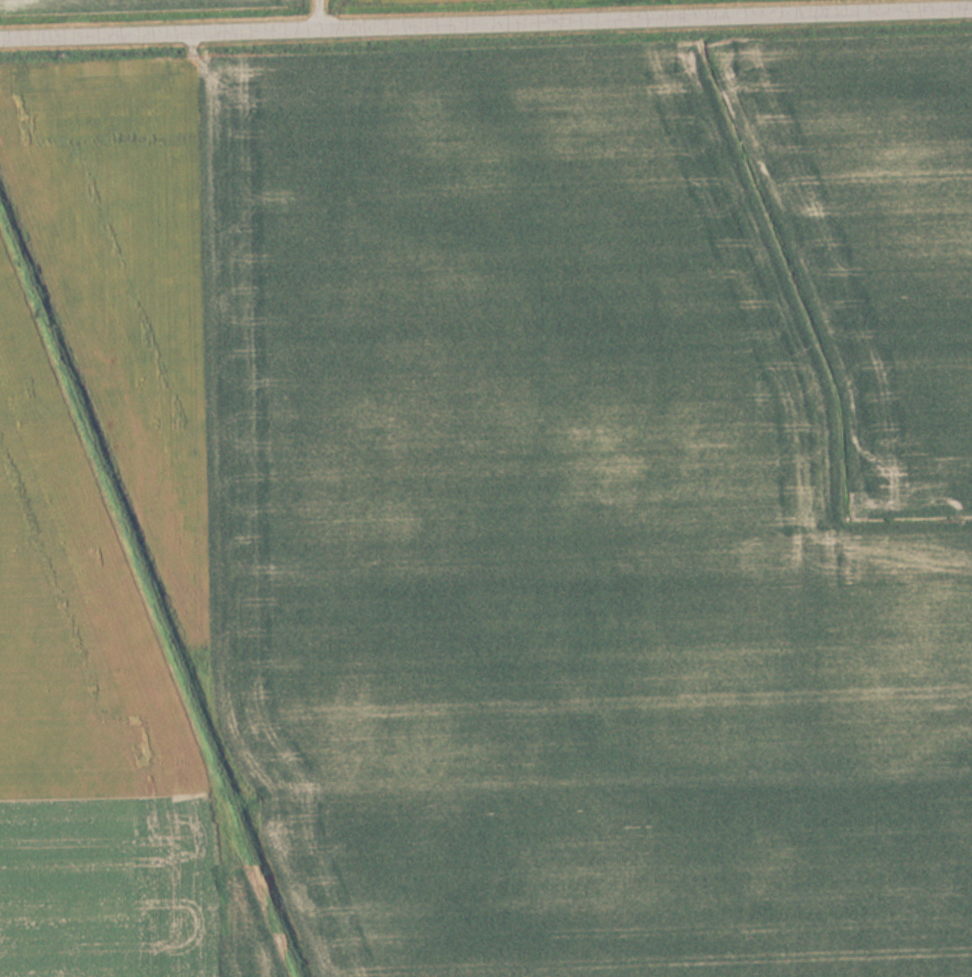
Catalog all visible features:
road: (325, 14)
road: (486, 24)

